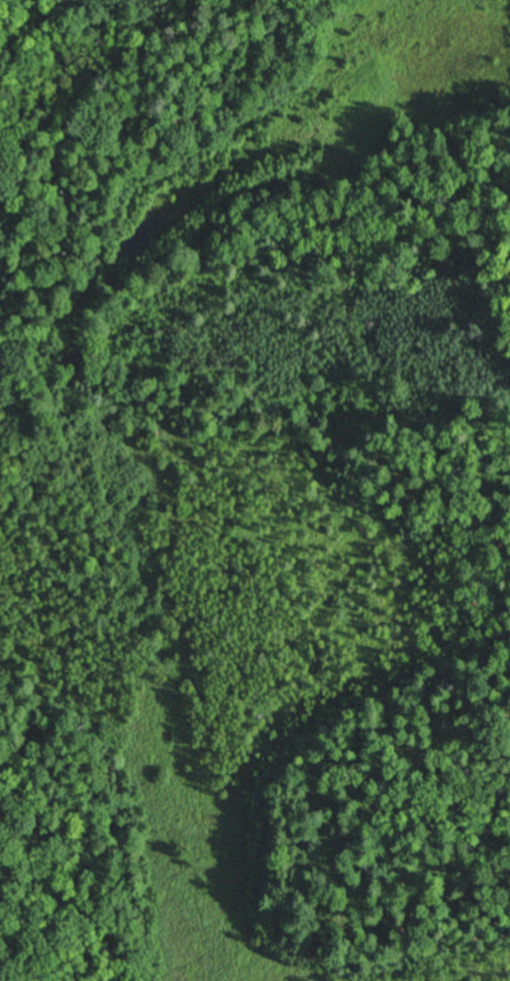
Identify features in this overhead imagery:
road: (107, 68)

